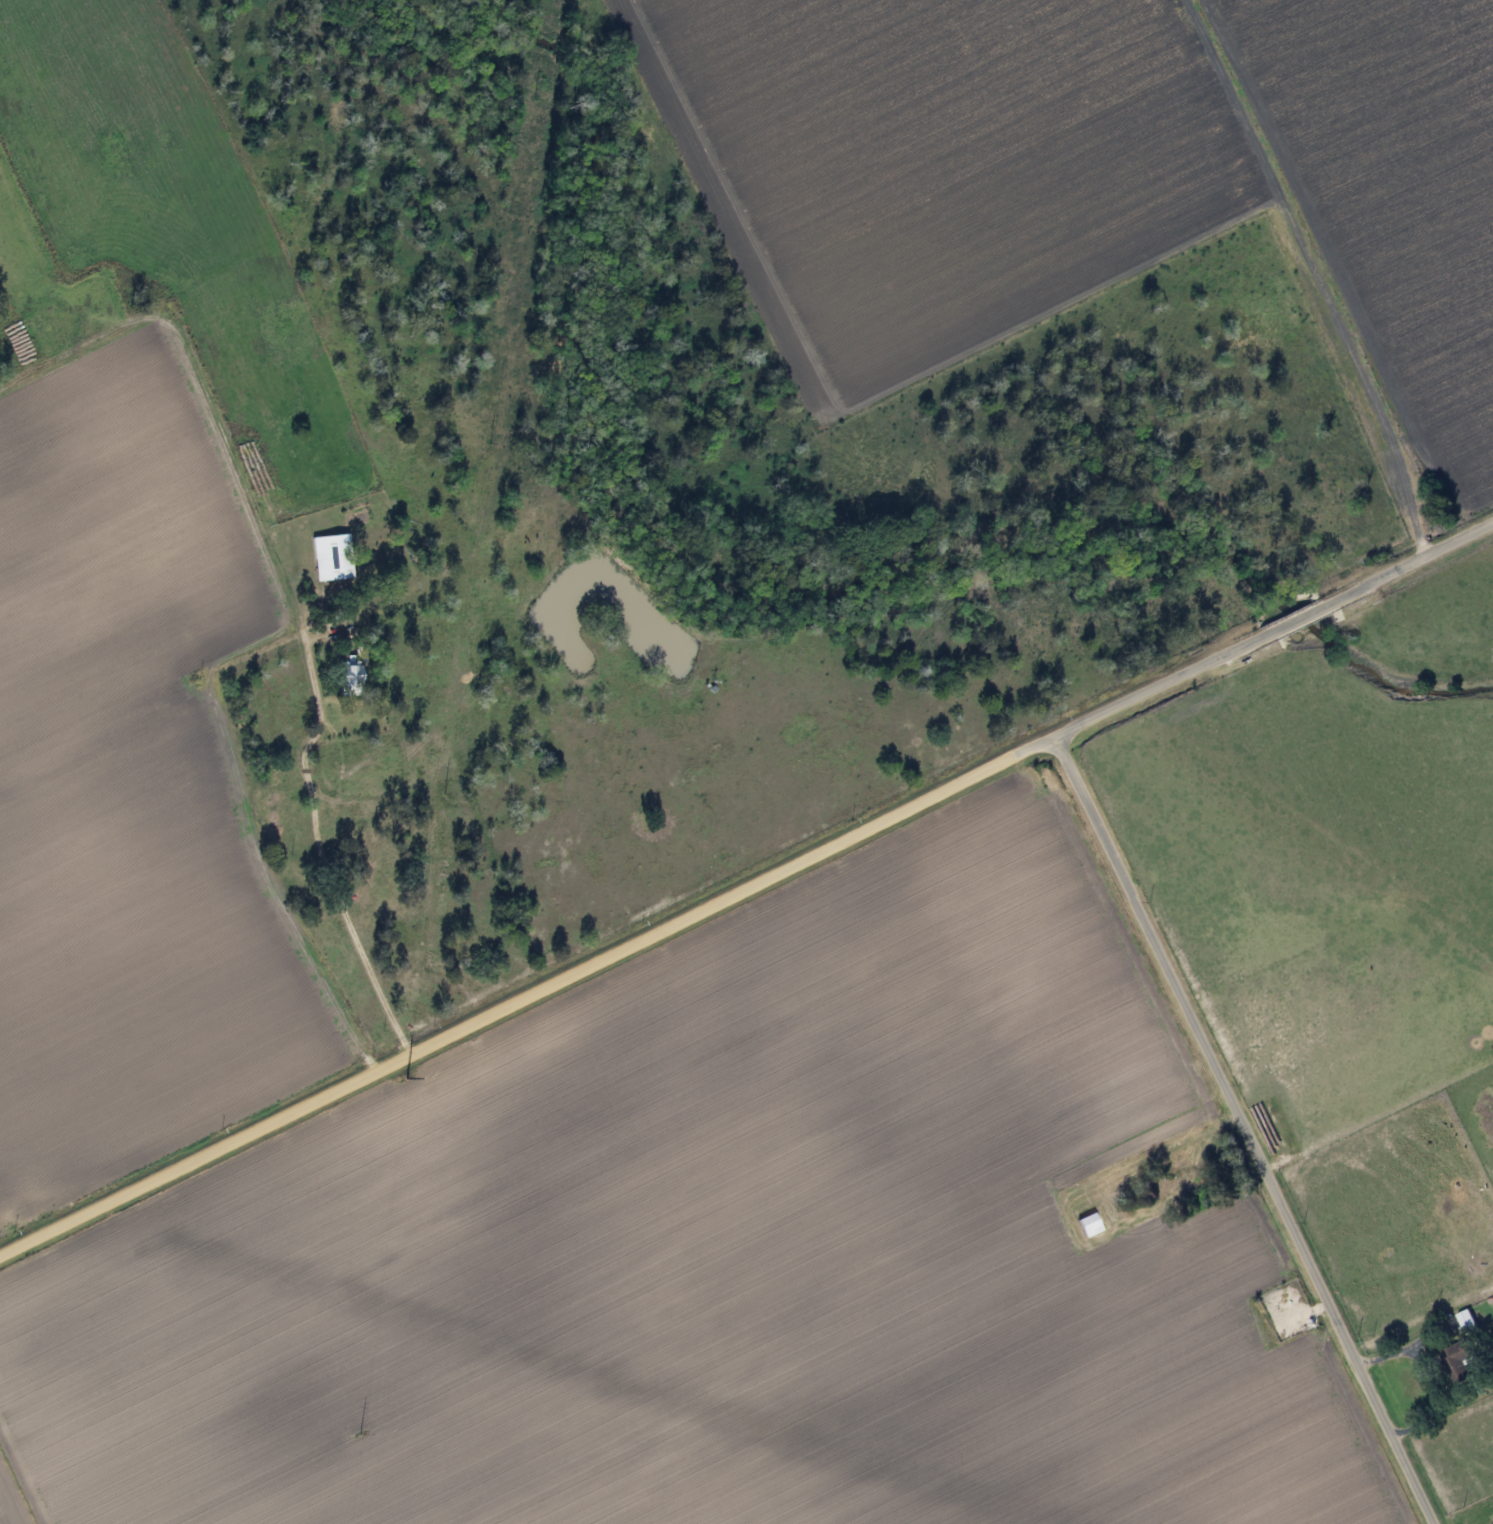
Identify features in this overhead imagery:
building: (329, 556)
road: (1253, 637)
building: (347, 671)
road: (317, 844)
road: (506, 1005)
road: (1241, 1129)
building: (1087, 1224)
building: (1465, 1319)
road: (1393, 1347)
building: (1456, 1362)

